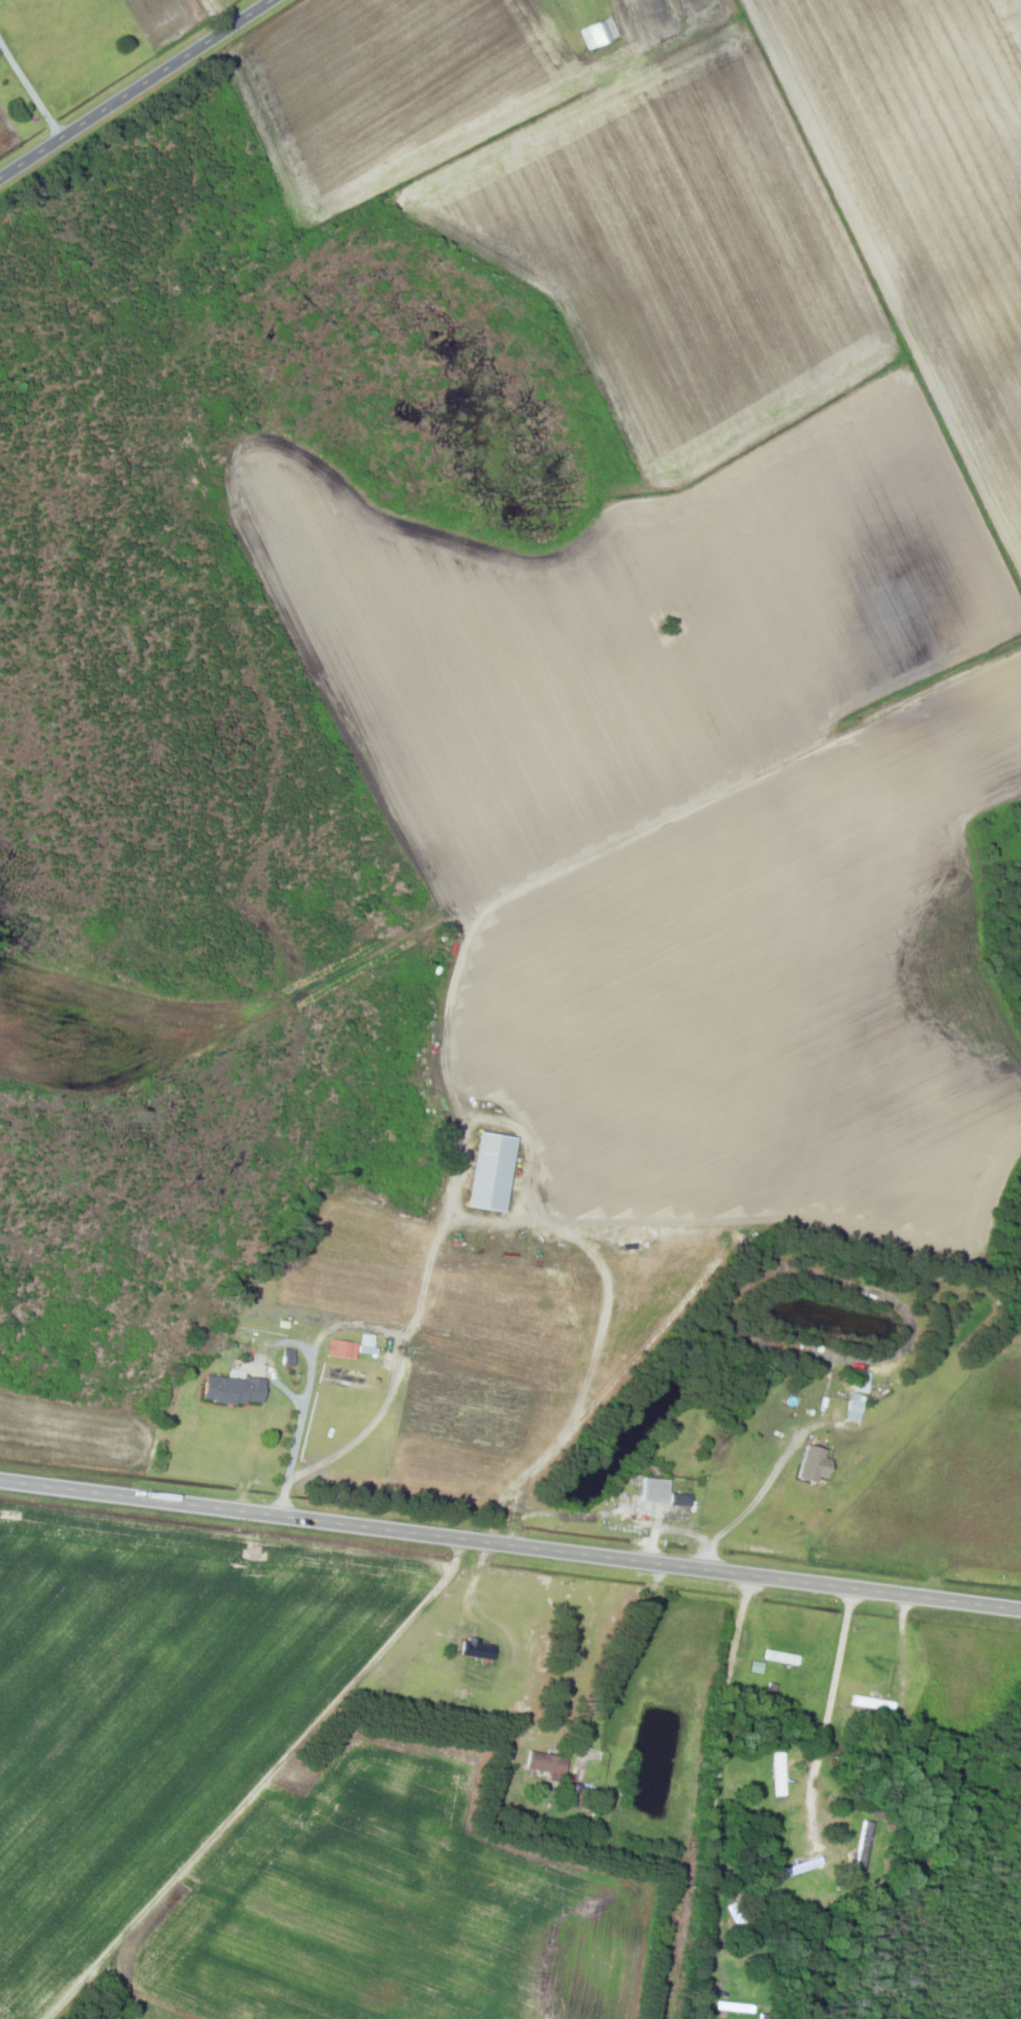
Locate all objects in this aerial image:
building: (599, 33)
road: (134, 87)
building: (493, 1171)
building: (368, 1343)
building: (342, 1349)
building: (235, 1389)
building: (855, 1406)
building: (814, 1491)
building: (662, 1493)
road: (512, 1521)
building: (479, 1649)
building: (781, 1657)
building: (873, 1704)
building: (548, 1765)
building: (779, 1773)
building: (576, 1796)
building: (864, 1845)
building: (804, 1866)
building: (741, 1922)
building: (736, 2006)

